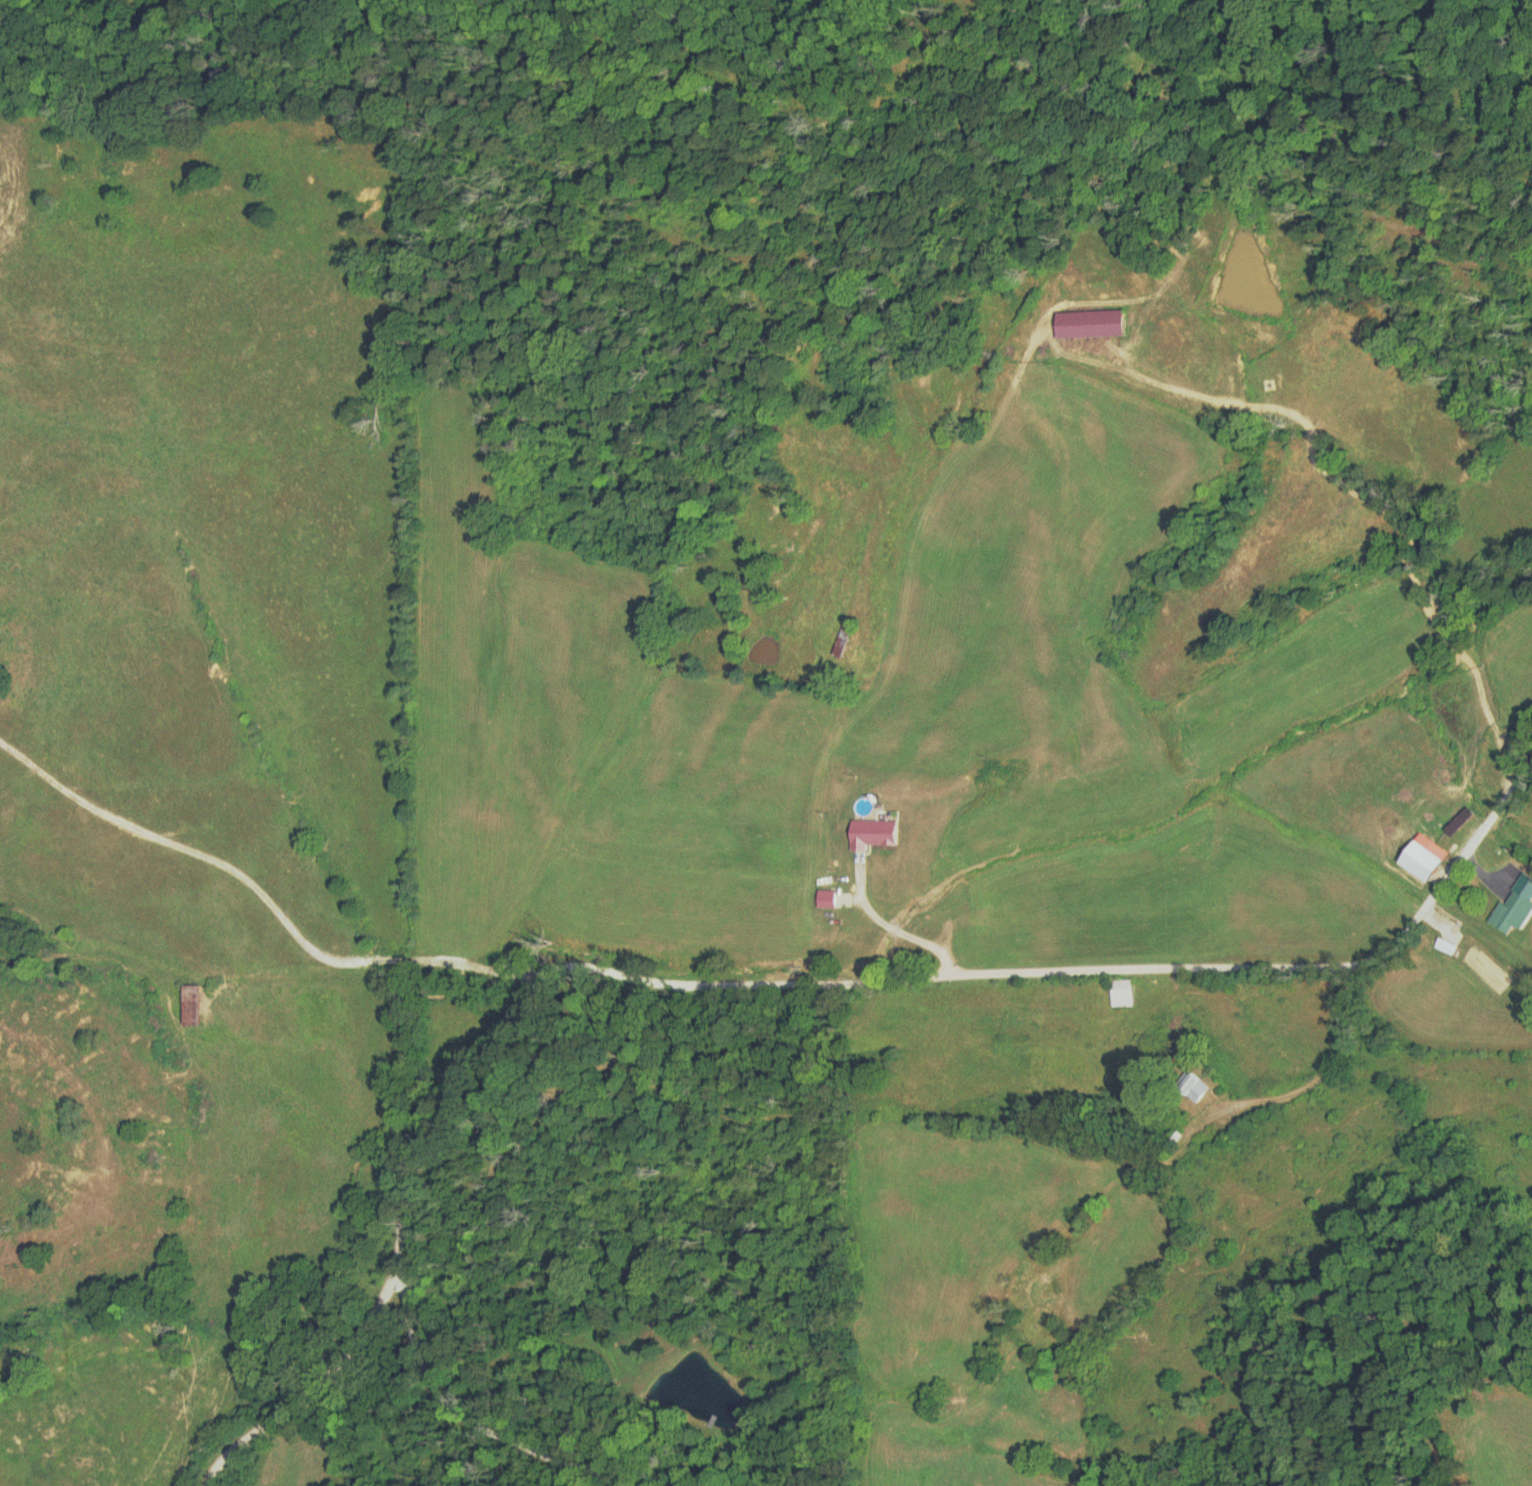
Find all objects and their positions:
building: (1087, 324)
building: (839, 642)
building: (872, 833)
building: (1418, 860)
road: (1013, 896)
building: (825, 899)
building: (1515, 906)
building: (1017, 915)
road: (317, 917)
building: (1444, 945)
road: (859, 965)
building: (1121, 993)
building: (200, 1003)
road: (1278, 1019)
building: (1191, 1089)
road: (310, 1429)

